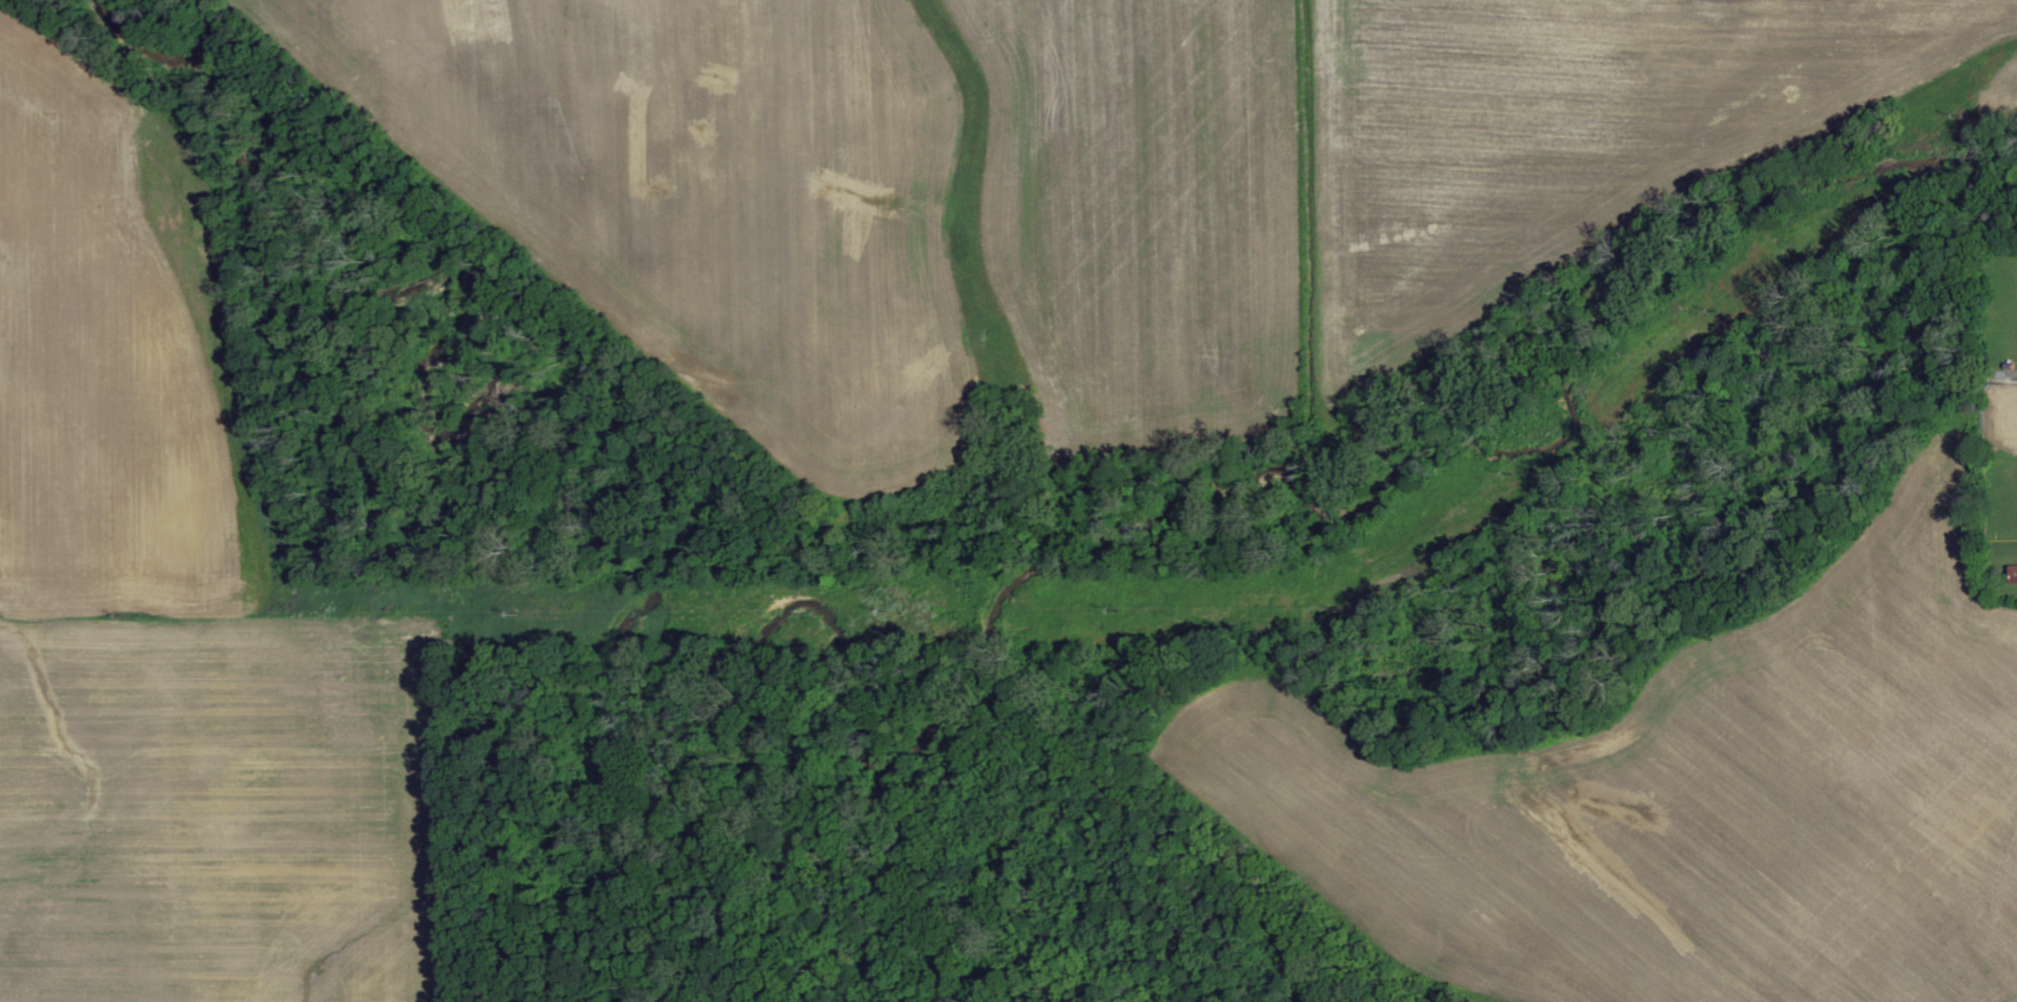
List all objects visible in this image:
building: (2014, 575)

